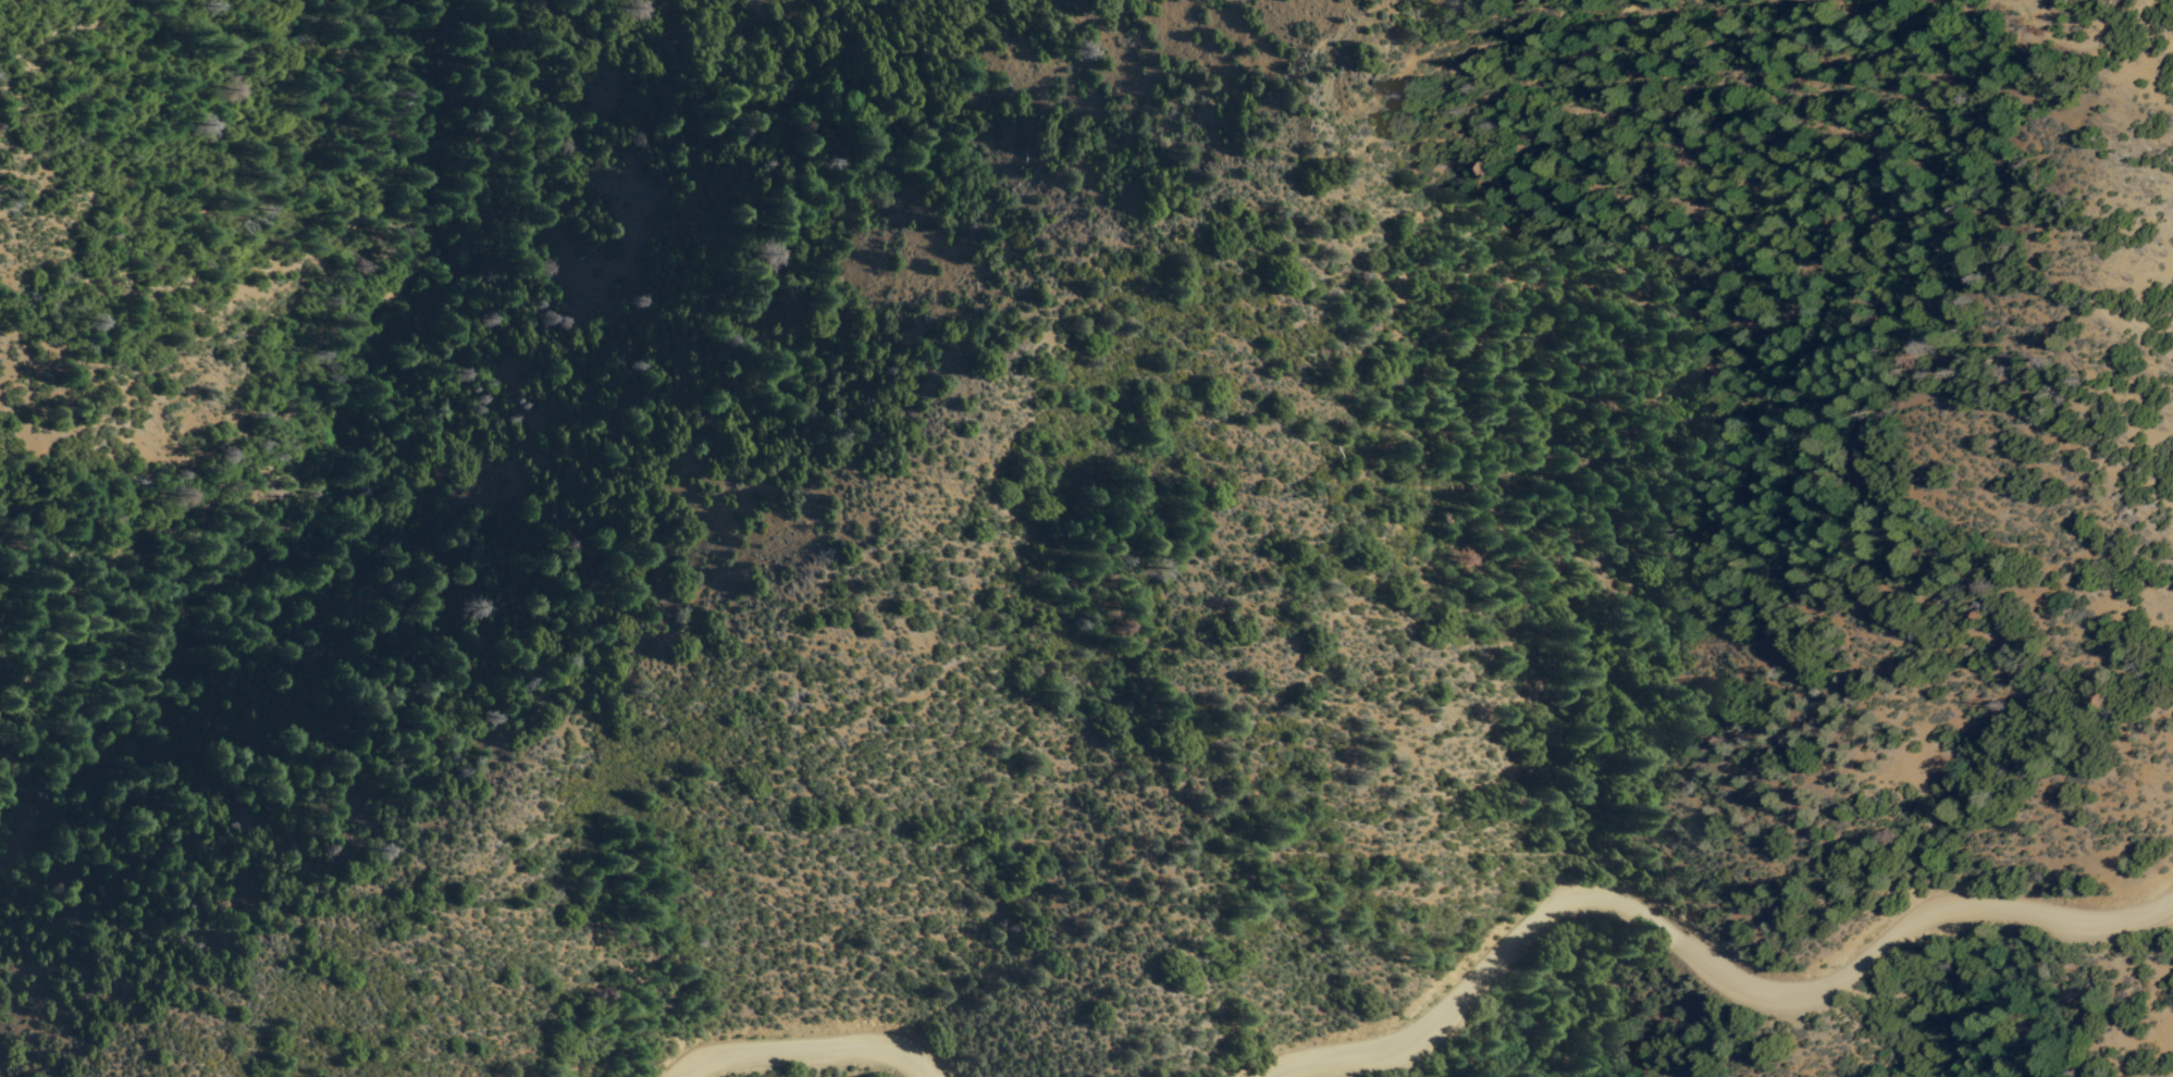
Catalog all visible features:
road: (1720, 983)
road: (798, 1059)

